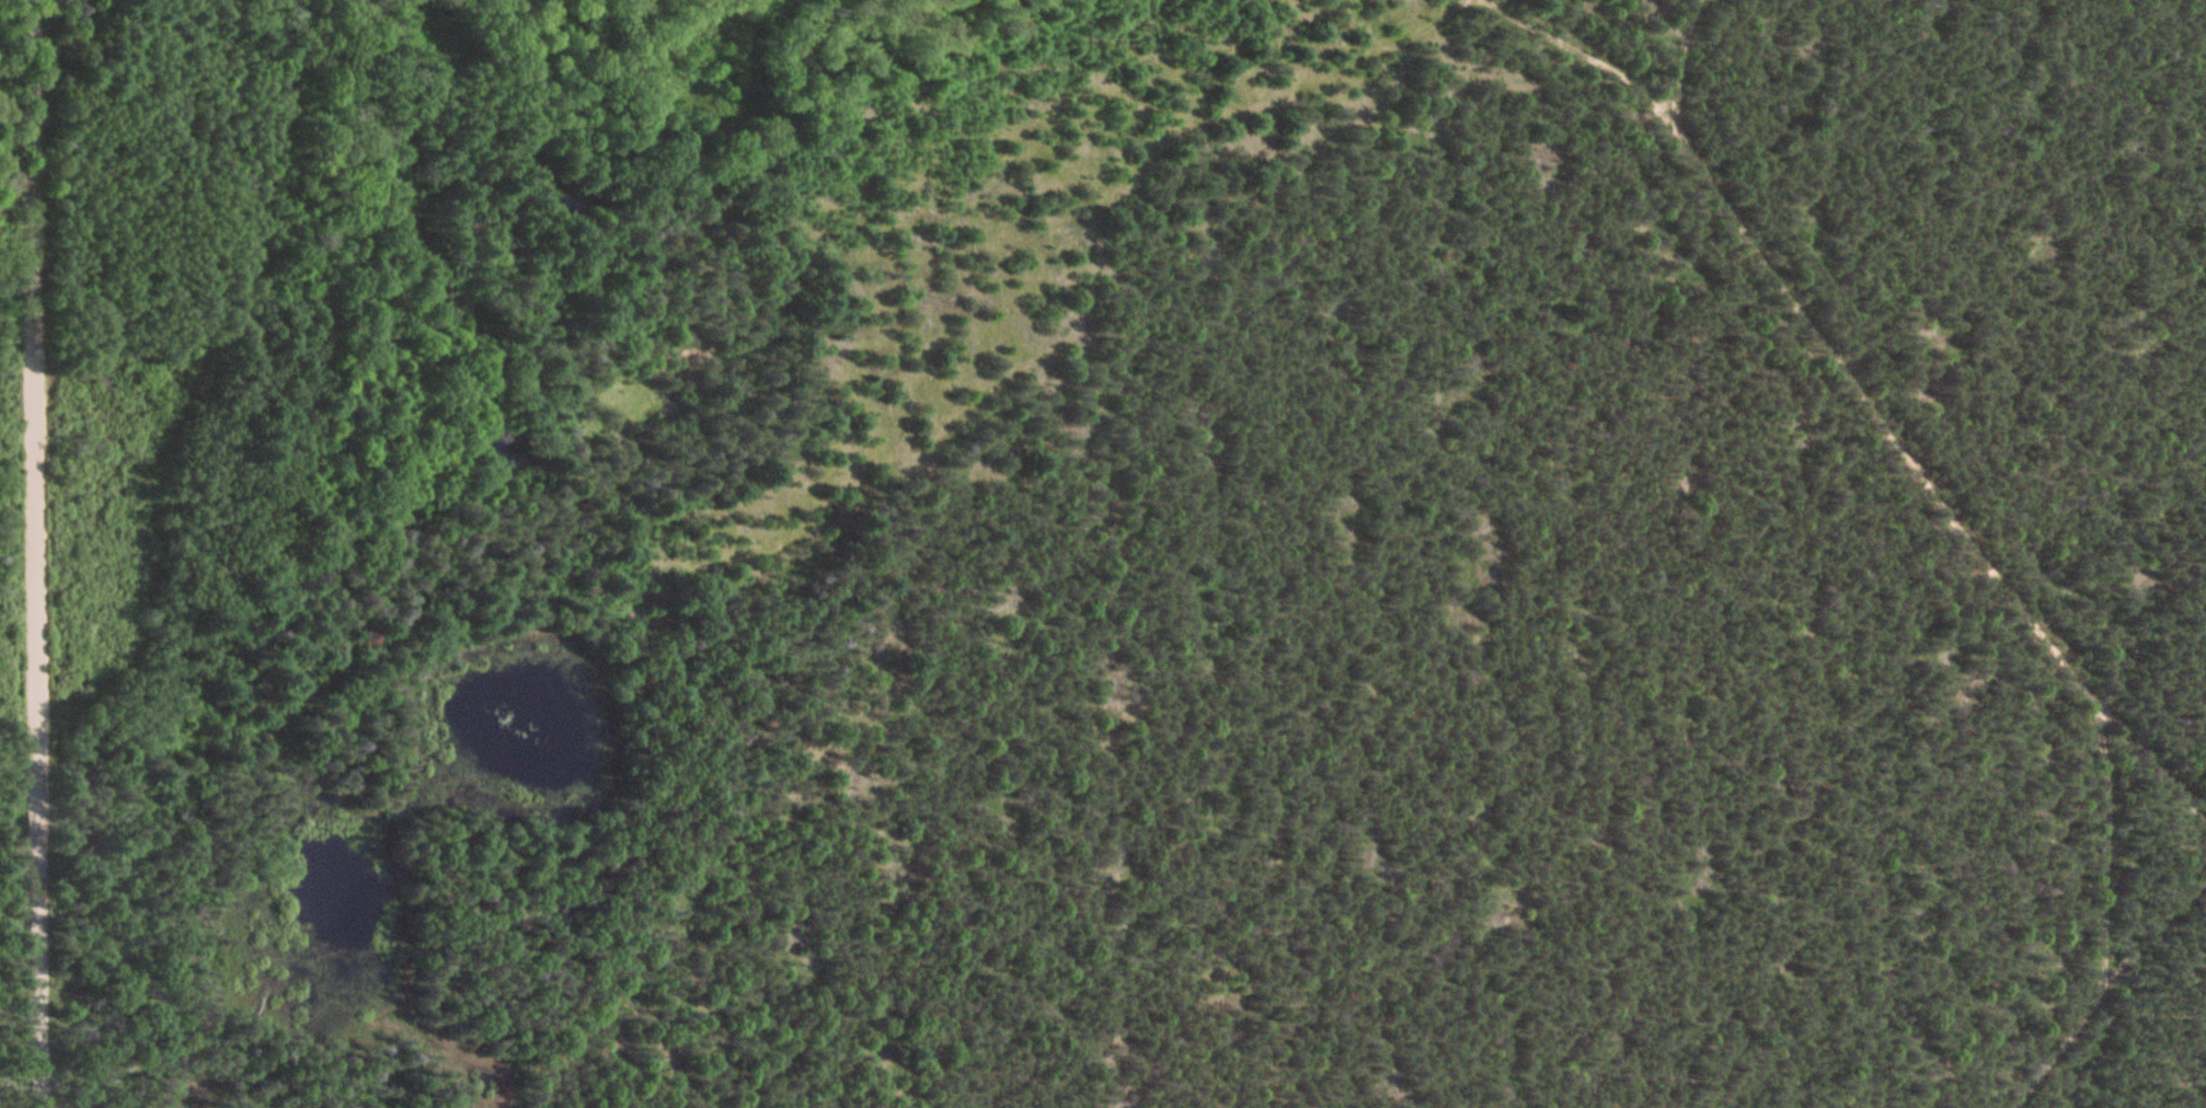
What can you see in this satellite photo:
road: (1963, 541)
road: (39, 553)
road: (2146, 774)
road: (2149, 943)

